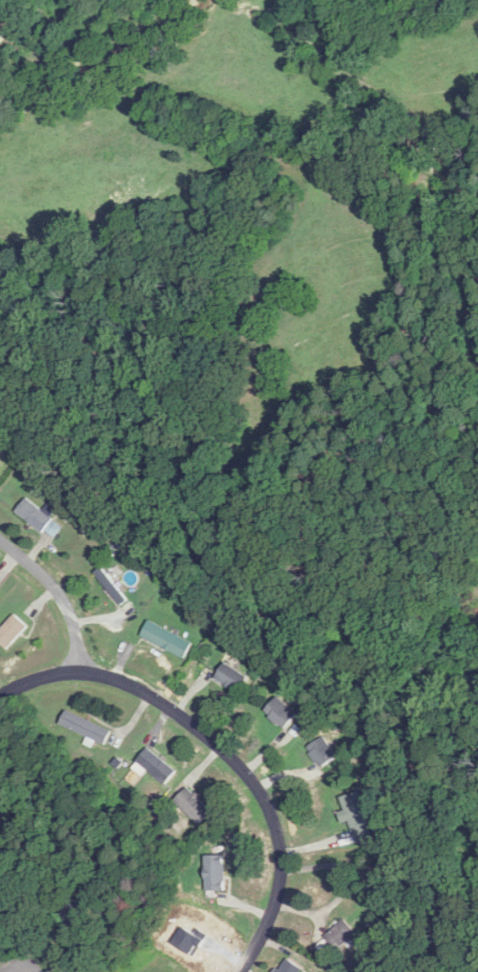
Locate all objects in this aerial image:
building: (40, 518)
building: (112, 587)
road: (60, 595)
building: (12, 632)
building: (168, 639)
building: (232, 678)
building: (281, 713)
building: (87, 728)
road: (220, 752)
building: (321, 753)
building: (156, 767)
building: (194, 806)
building: (358, 818)
building: (216, 873)
building: (342, 935)
building: (290, 967)

